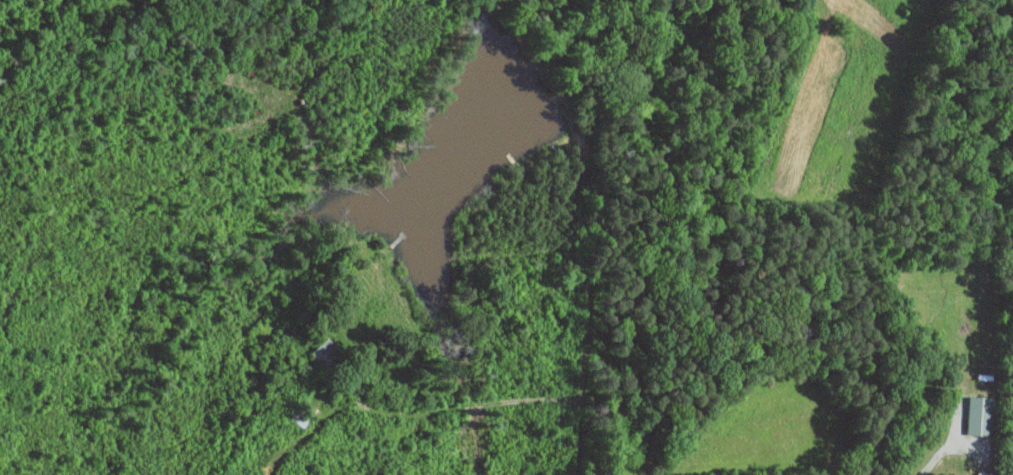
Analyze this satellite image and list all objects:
building: (979, 414)
road: (936, 457)

